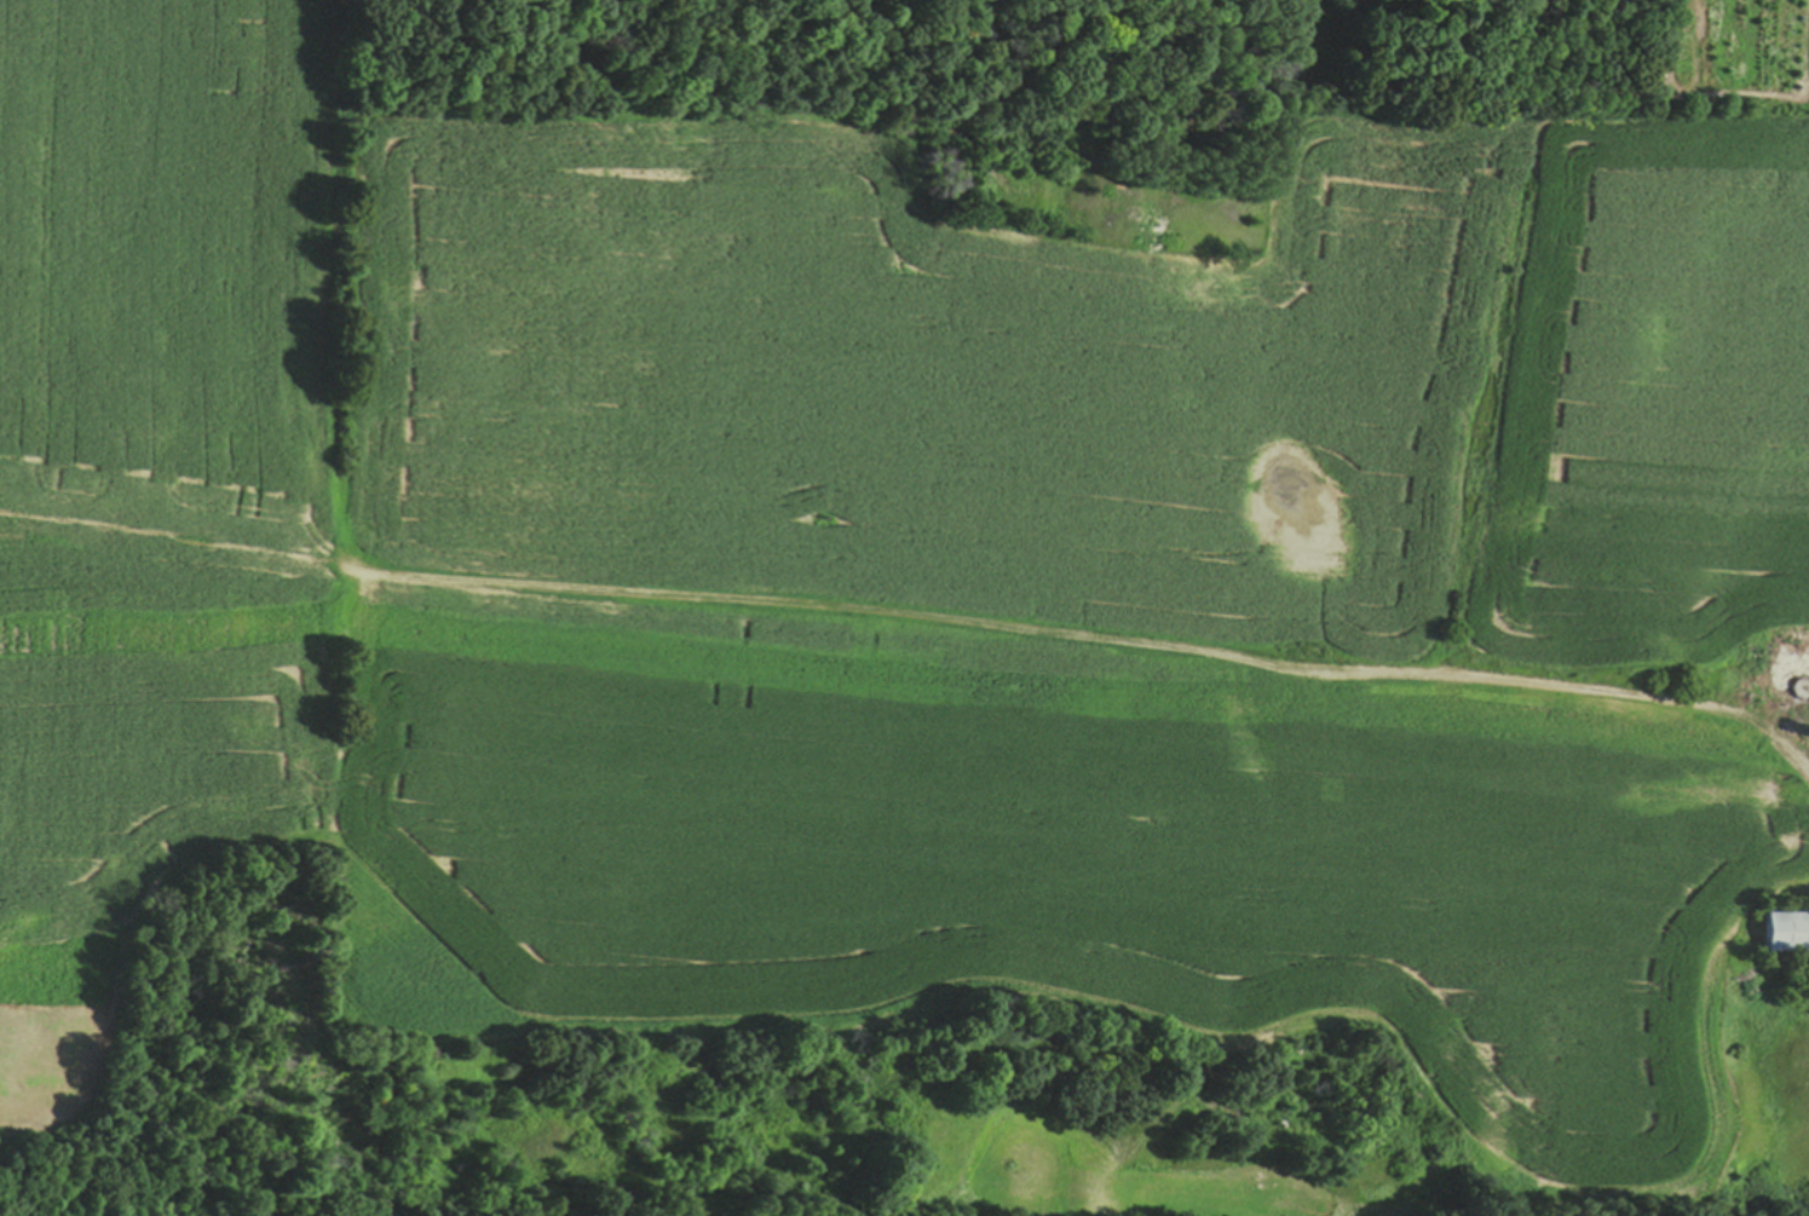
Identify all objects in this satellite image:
building: (1786, 932)

